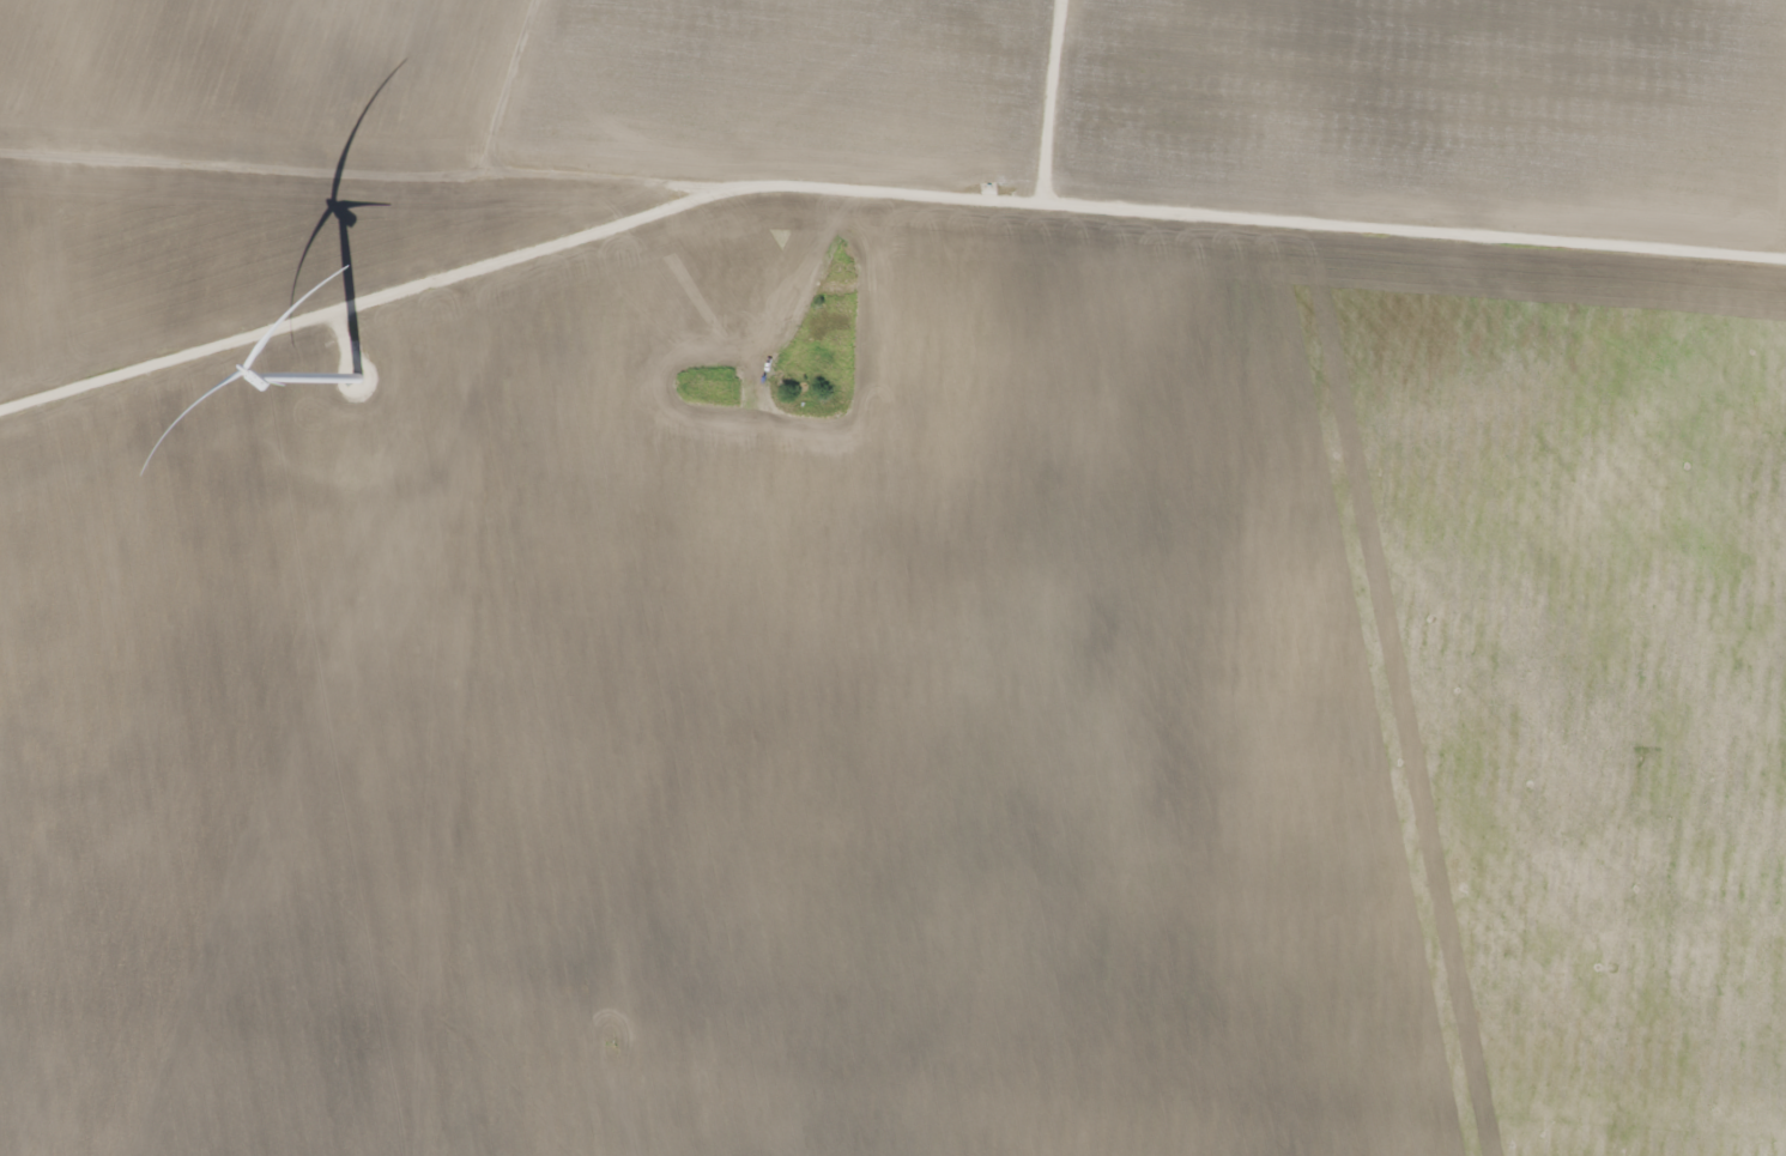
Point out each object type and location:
wind turbine: (357, 379)

